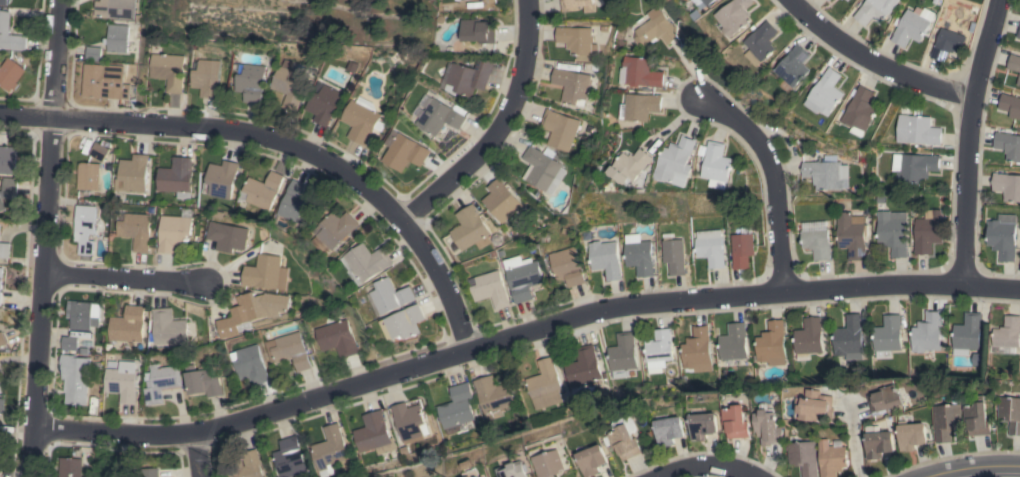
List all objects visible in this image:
building: (480, 0)
building: (827, 0)
building: (829, 0)
building: (845, 0)
building: (848, 0)
building: (4, 2)
building: (705, 3)
building: (578, 5)
building: (114, 8)
building: (874, 10)
building: (736, 16)
building: (4, 23)
building: (911, 26)
building: (655, 27)
building: (479, 30)
building: (1018, 31)
building: (116, 38)
building: (576, 40)
building: (762, 43)
building: (946, 44)
building: (93, 53)
building: (1014, 62)
road: (873, 63)
building: (794, 65)
building: (168, 70)
building: (640, 72)
building: (10, 74)
building: (206, 77)
building: (468, 77)
building: (1019, 80)
building: (104, 81)
building: (250, 82)
building: (289, 84)
building: (572, 85)
building: (826, 93)
building: (323, 104)
building: (1010, 105)
building: (642, 106)
building: (860, 111)
building: (438, 115)
building: (360, 119)
road: (494, 128)
building: (559, 129)
building: (917, 129)
road: (966, 140)
road: (284, 144)
building: (1008, 145)
building: (98, 151)
building: (404, 151)
building: (7, 159)
building: (678, 162)
building: (635, 163)
building: (718, 165)
building: (914, 166)
building: (544, 170)
building: (133, 173)
building: (826, 174)
building: (88, 176)
road: (772, 176)
building: (177, 177)
building: (220, 179)
building: (1007, 186)
building: (7, 190)
building: (262, 190)
building: (500, 200)
building: (297, 203)
building: (84, 228)
building: (135, 229)
building: (470, 229)
building: (174, 232)
building: (336, 232)
building: (892, 232)
building: (926, 234)
building: (227, 236)
building: (851, 236)
building: (1002, 236)
road: (42, 238)
building: (816, 239)
building: (710, 247)
building: (5, 249)
building: (741, 250)
building: (638, 254)
building: (673, 254)
building: (604, 258)
building: (367, 262)
building: (567, 266)
building: (265, 273)
building: (522, 276)
building: (1, 278)
road: (121, 279)
building: (490, 289)
building: (392, 295)
building: (0, 298)
building: (251, 311)
building: (83, 314)
building: (404, 323)
building: (129, 326)
building: (168, 327)
building: (1007, 332)
road: (520, 334)
building: (967, 334)
building: (927, 335)
building: (887, 336)
building: (338, 338)
building: (808, 338)
building: (849, 338)
building: (2, 339)
building: (733, 342)
building: (69, 343)
building: (771, 344)
building: (290, 350)
building: (658, 350)
building: (697, 350)
building: (622, 354)
building: (252, 364)
building: (582, 366)
building: (75, 377)
building: (122, 381)
building: (161, 382)
building: (205, 382)
building: (1, 384)
building: (544, 385)
building: (493, 396)
building: (888, 399)
building: (2, 405)
building: (816, 406)
building: (456, 408)
building: (1011, 412)
building: (977, 416)
building: (409, 421)
building: (947, 421)
building: (736, 422)
building: (703, 425)
building: (769, 426)
building: (670, 430)
building: (374, 434)
building: (912, 436)
building: (626, 442)
road: (853, 442)
building: (878, 442)
building: (329, 448)
road: (197, 454)
building: (804, 457)
building: (289, 458)
building: (833, 459)
building: (593, 460)
building: (549, 463)
building: (245, 465)
road: (969, 466)
building: (70, 467)
road: (707, 467)
building: (513, 470)
building: (150, 472)
building: (473, 473)
building: (110, 475)
building: (483, 476)

